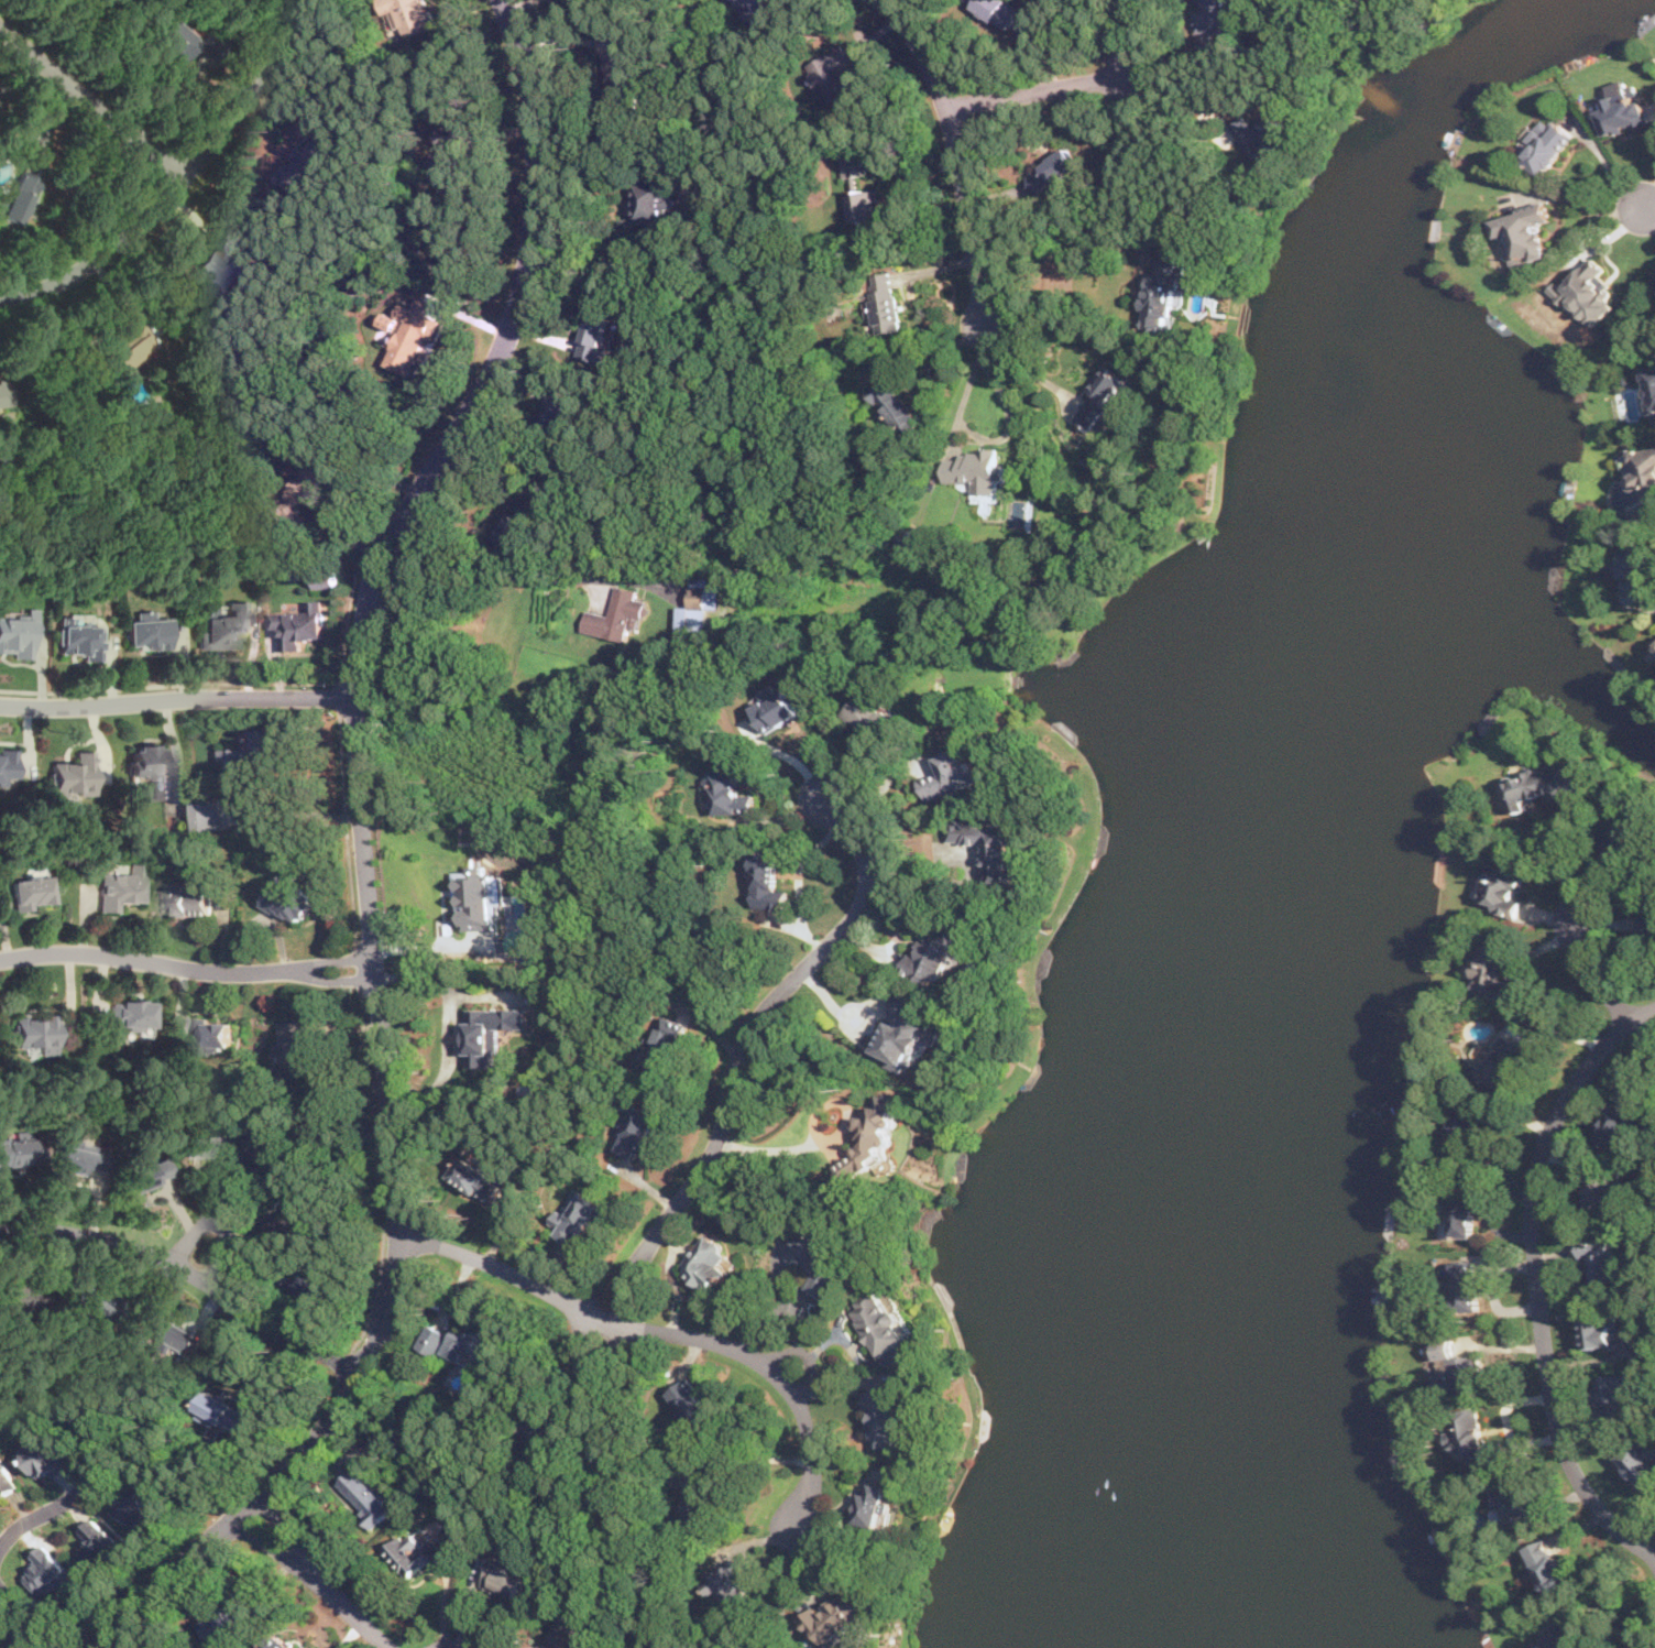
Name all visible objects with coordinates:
building: (748, 7)
building: (997, 10)
building: (1210, 15)
building: (409, 17)
road: (1119, 36)
building: (174, 40)
building: (830, 74)
building: (620, 79)
road: (1037, 89)
road: (1172, 102)
road: (91, 105)
building: (1623, 111)
building: (1261, 131)
building: (1545, 145)
road: (955, 154)
building: (449, 156)
building: (305, 163)
road: (1608, 163)
building: (852, 164)
building: (1052, 171)
road: (184, 178)
building: (18, 196)
building: (653, 198)
building: (861, 205)
road: (1646, 209)
building: (1523, 234)
road: (1062, 250)
road: (592, 255)
building: (233, 268)
building: (1161, 292)
building: (1587, 293)
building: (885, 302)
building: (593, 334)
building: (406, 338)
building: (132, 347)
road: (1022, 363)
building: (1652, 381)
building: (4, 396)
building: (1099, 399)
building: (891, 402)
building: (561, 411)
road: (1002, 436)
road: (489, 470)
building: (974, 470)
building: (1644, 474)
building: (517, 521)
building: (912, 543)
building: (1640, 569)
road: (511, 575)
building: (326, 578)
building: (695, 610)
building: (616, 615)
building: (300, 623)
building: (222, 627)
building: (18, 635)
building: (146, 635)
building: (78, 641)
building: (1653, 651)
road: (230, 683)
road: (339, 694)
road: (177, 699)
building: (777, 707)
building: (874, 717)
building: (254, 749)
building: (7, 767)
building: (149, 768)
building: (951, 773)
building: (73, 776)
building: (1539, 784)
road: (879, 789)
building: (728, 792)
road: (297, 810)
building: (209, 815)
road: (346, 826)
building: (1625, 833)
building: (991, 847)
road: (943, 856)
road: (364, 860)
road: (1571, 867)
road: (800, 878)
building: (768, 881)
building: (1505, 888)
building: (119, 890)
building: (31, 893)
building: (482, 896)
building: (187, 902)
building: (288, 903)
building: (1649, 923)
building: (933, 953)
road: (359, 965)
road: (186, 968)
road: (1594, 972)
building: (1499, 974)
building: (131, 1015)
road: (448, 1026)
building: (210, 1032)
building: (490, 1032)
building: (906, 1033)
building: (35, 1035)
building: (661, 1045)
road: (741, 1045)
building: (294, 1048)
building: (1503, 1058)
building: (1619, 1115)
building: (635, 1128)
building: (1468, 1134)
building: (868, 1142)
building: (202, 1146)
road: (780, 1147)
building: (272, 1149)
building: (21, 1152)
building: (79, 1158)
road: (380, 1172)
road: (1644, 1174)
building: (145, 1176)
building: (480, 1180)
building: (1602, 1190)
building: (303, 1214)
building: (1465, 1215)
building: (577, 1219)
road: (216, 1224)
building: (1601, 1259)
building: (816, 1260)
building: (708, 1265)
road: (189, 1274)
road: (1535, 1277)
building: (308, 1284)
building: (1465, 1285)
building: (20, 1298)
building: (92, 1303)
building: (877, 1322)
road: (667, 1331)
building: (1598, 1332)
building: (164, 1336)
building: (464, 1345)
road: (589, 1361)
road: (343, 1362)
building: (1456, 1367)
building: (1615, 1395)
building: (689, 1404)
building: (226, 1412)
building: (884, 1416)
building: (541, 1426)
road: (129, 1429)
building: (1471, 1437)
building: (46, 1456)
building: (1642, 1460)
building: (7, 1476)
building: (699, 1495)
building: (366, 1496)
building: (134, 1502)
building: (874, 1505)
building: (1515, 1506)
road: (609, 1508)
road: (45, 1511)
road: (199, 1513)
building: (98, 1542)
road: (1652, 1547)
building: (410, 1553)
building: (1547, 1565)
building: (47, 1571)
road: (319, 1578)
building: (504, 1579)
building: (726, 1586)
building: (228, 1616)
building: (839, 1617)
road: (10, 1619)
road: (1648, 1628)
road: (139, 1630)
building: (573, 1634)
building: (1560, 1636)
road: (443, 1641)
building: (280, 1642)

